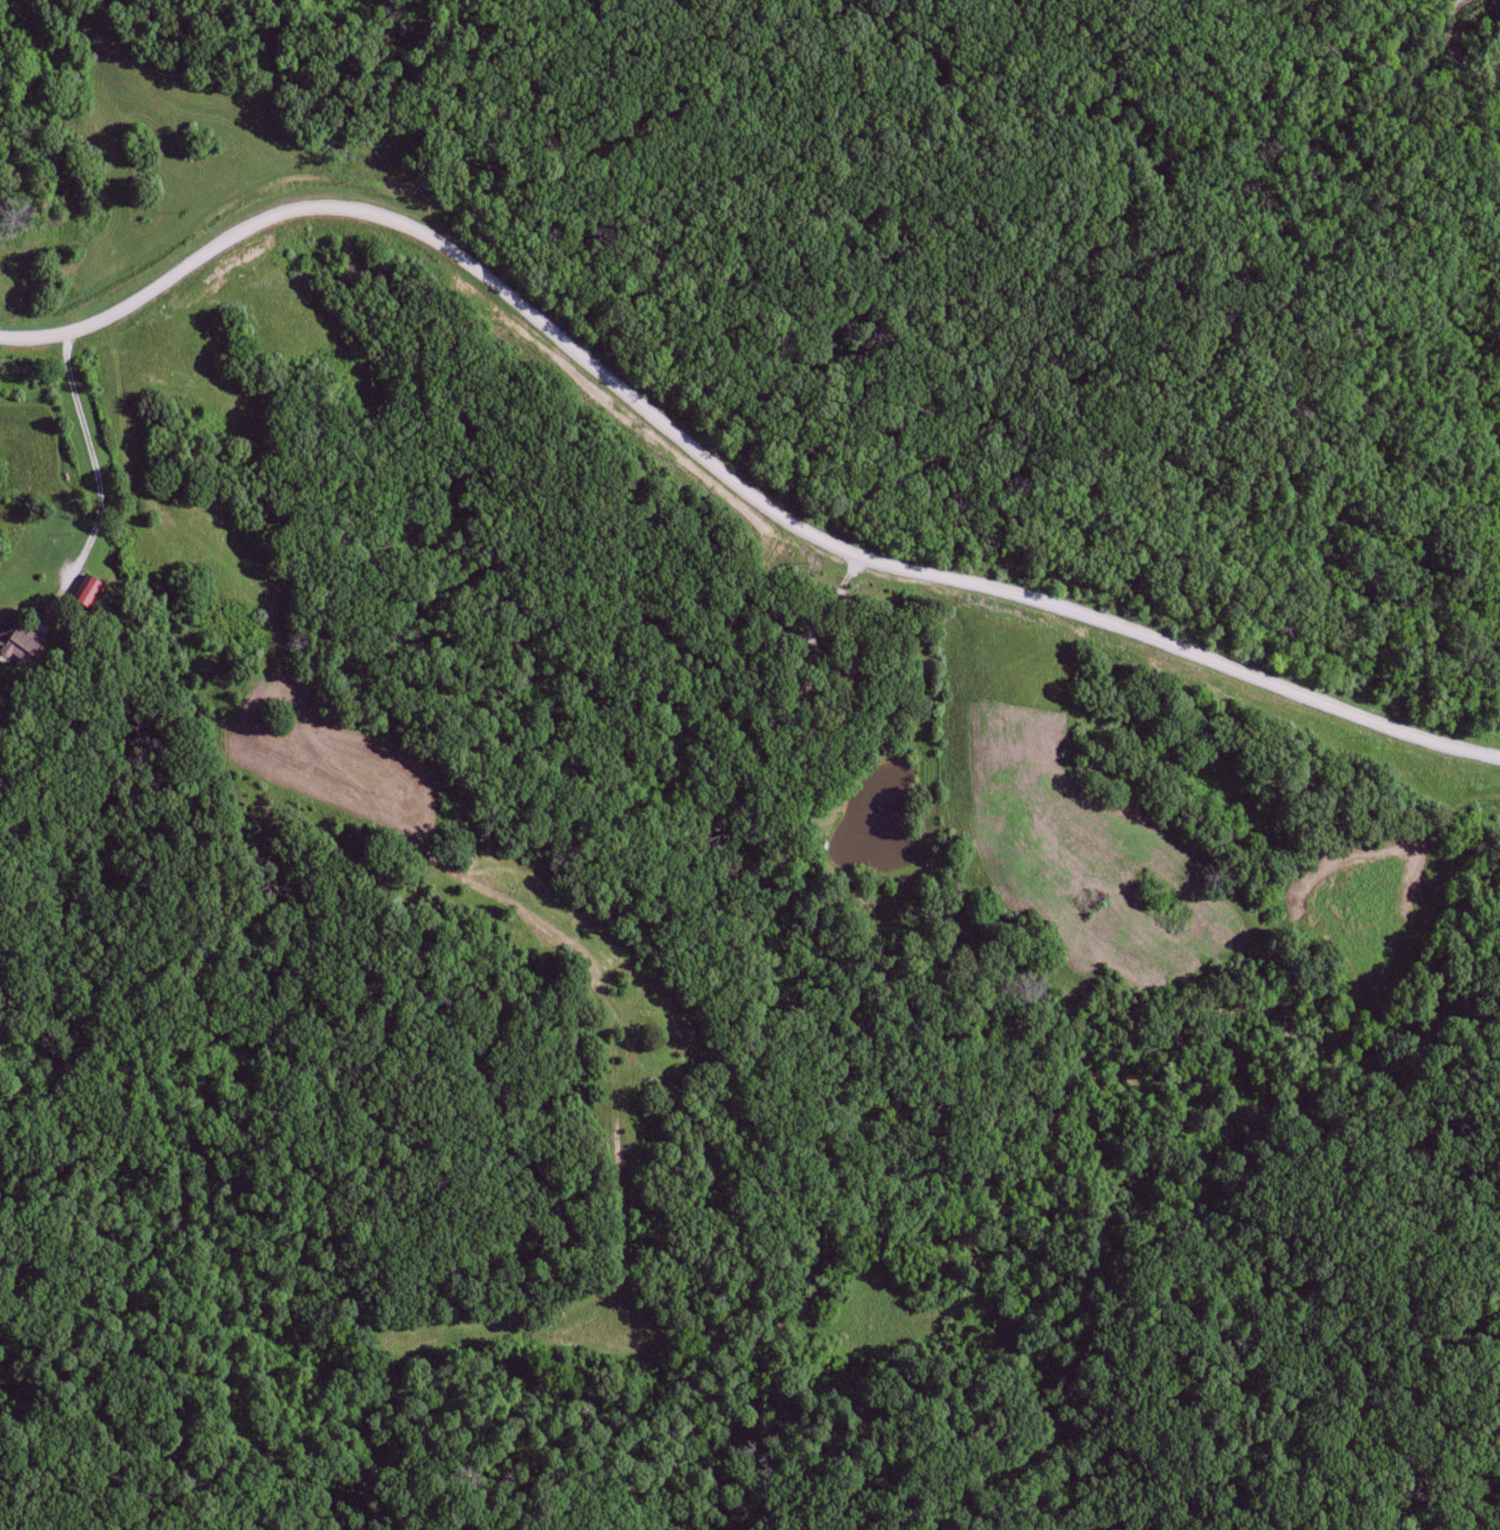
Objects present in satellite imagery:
road: (717, 468)
building: (14, 645)

